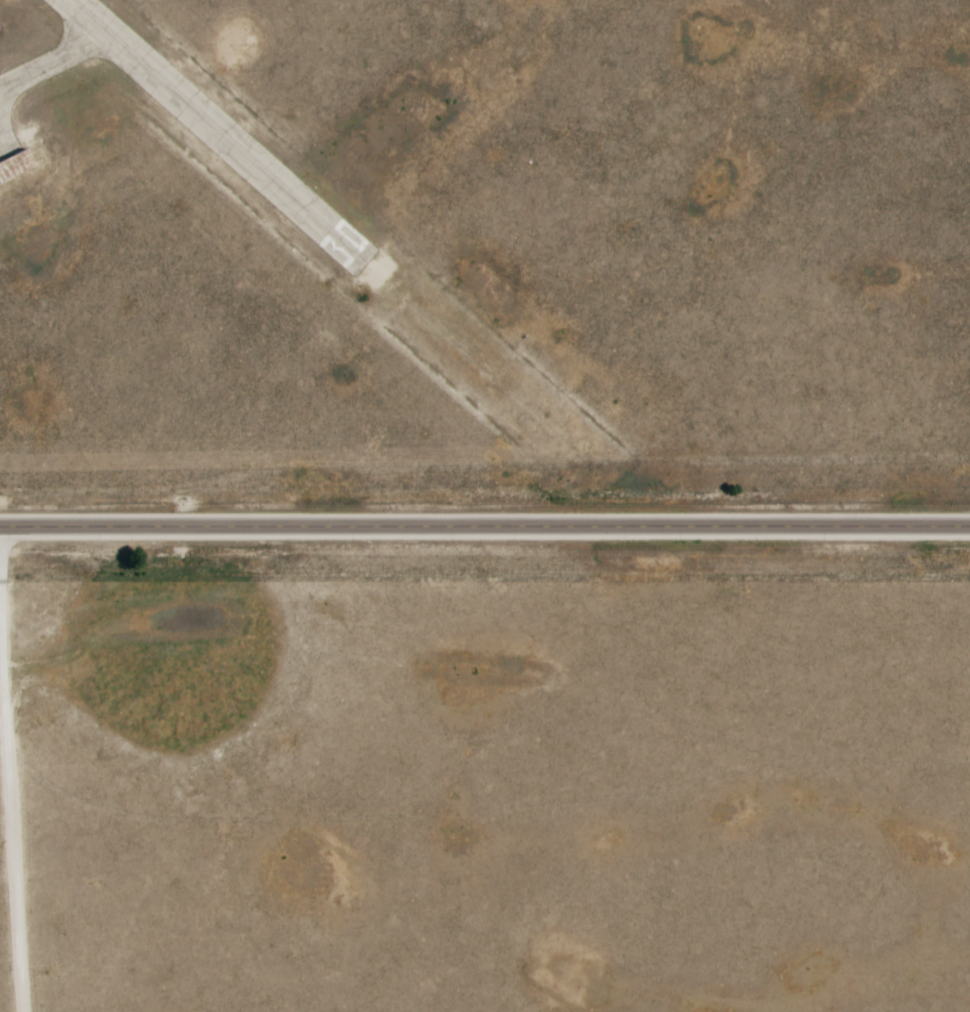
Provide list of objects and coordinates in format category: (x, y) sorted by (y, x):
airport taxiway: (85, 30)
airport taxiway: (62, 58)
airport runway: (219, 132)
airport apron: (7, 139)
building: (16, 165)
road: (485, 528)
road: (11, 793)

